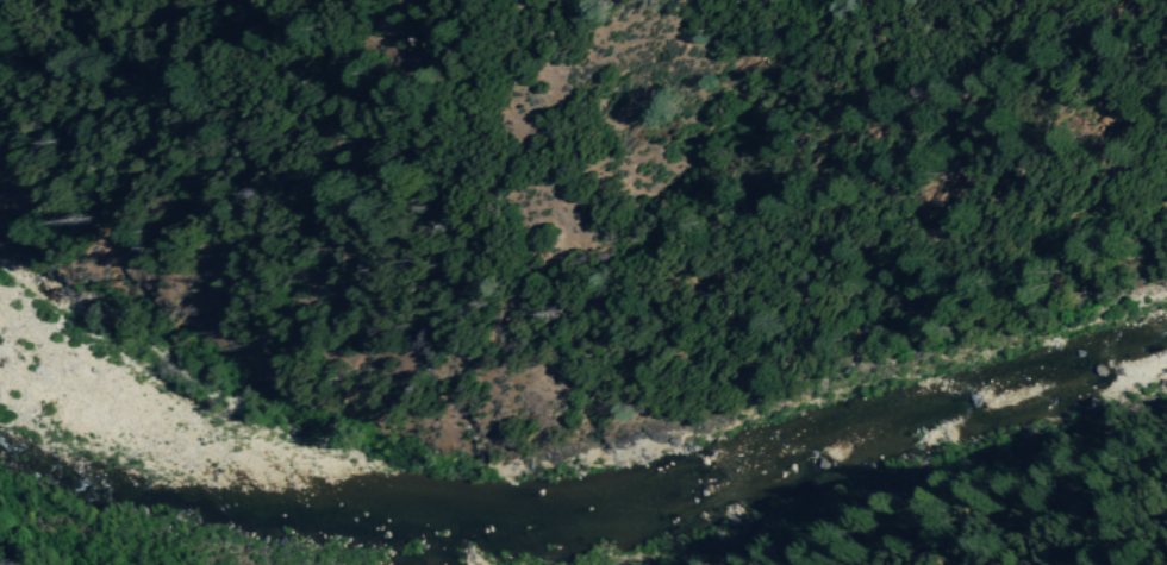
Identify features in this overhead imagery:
road: (580, 297)
river: (790, 441)
river: (71, 444)
river: (98, 478)
river: (160, 541)

